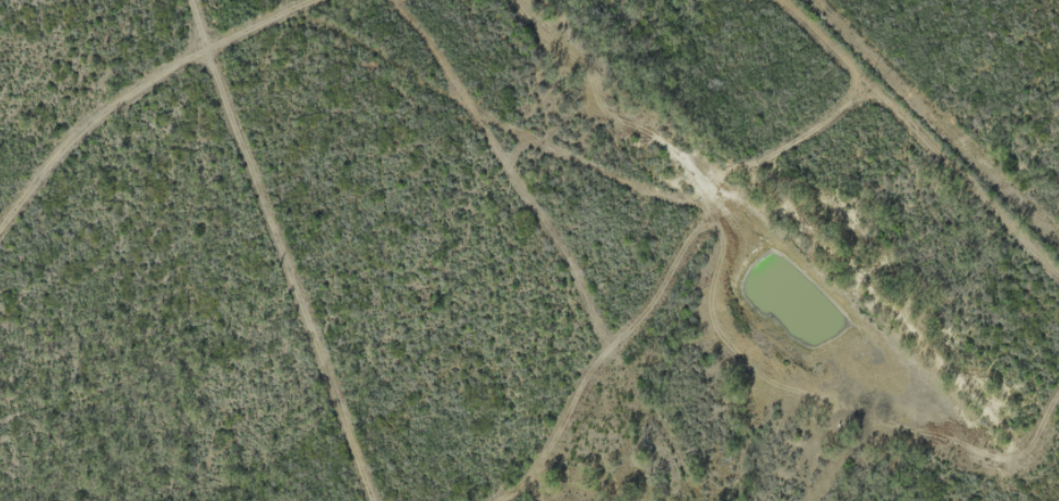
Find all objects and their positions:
road: (830, 45)
road: (790, 71)
road: (128, 90)
road: (947, 107)
road: (725, 137)

